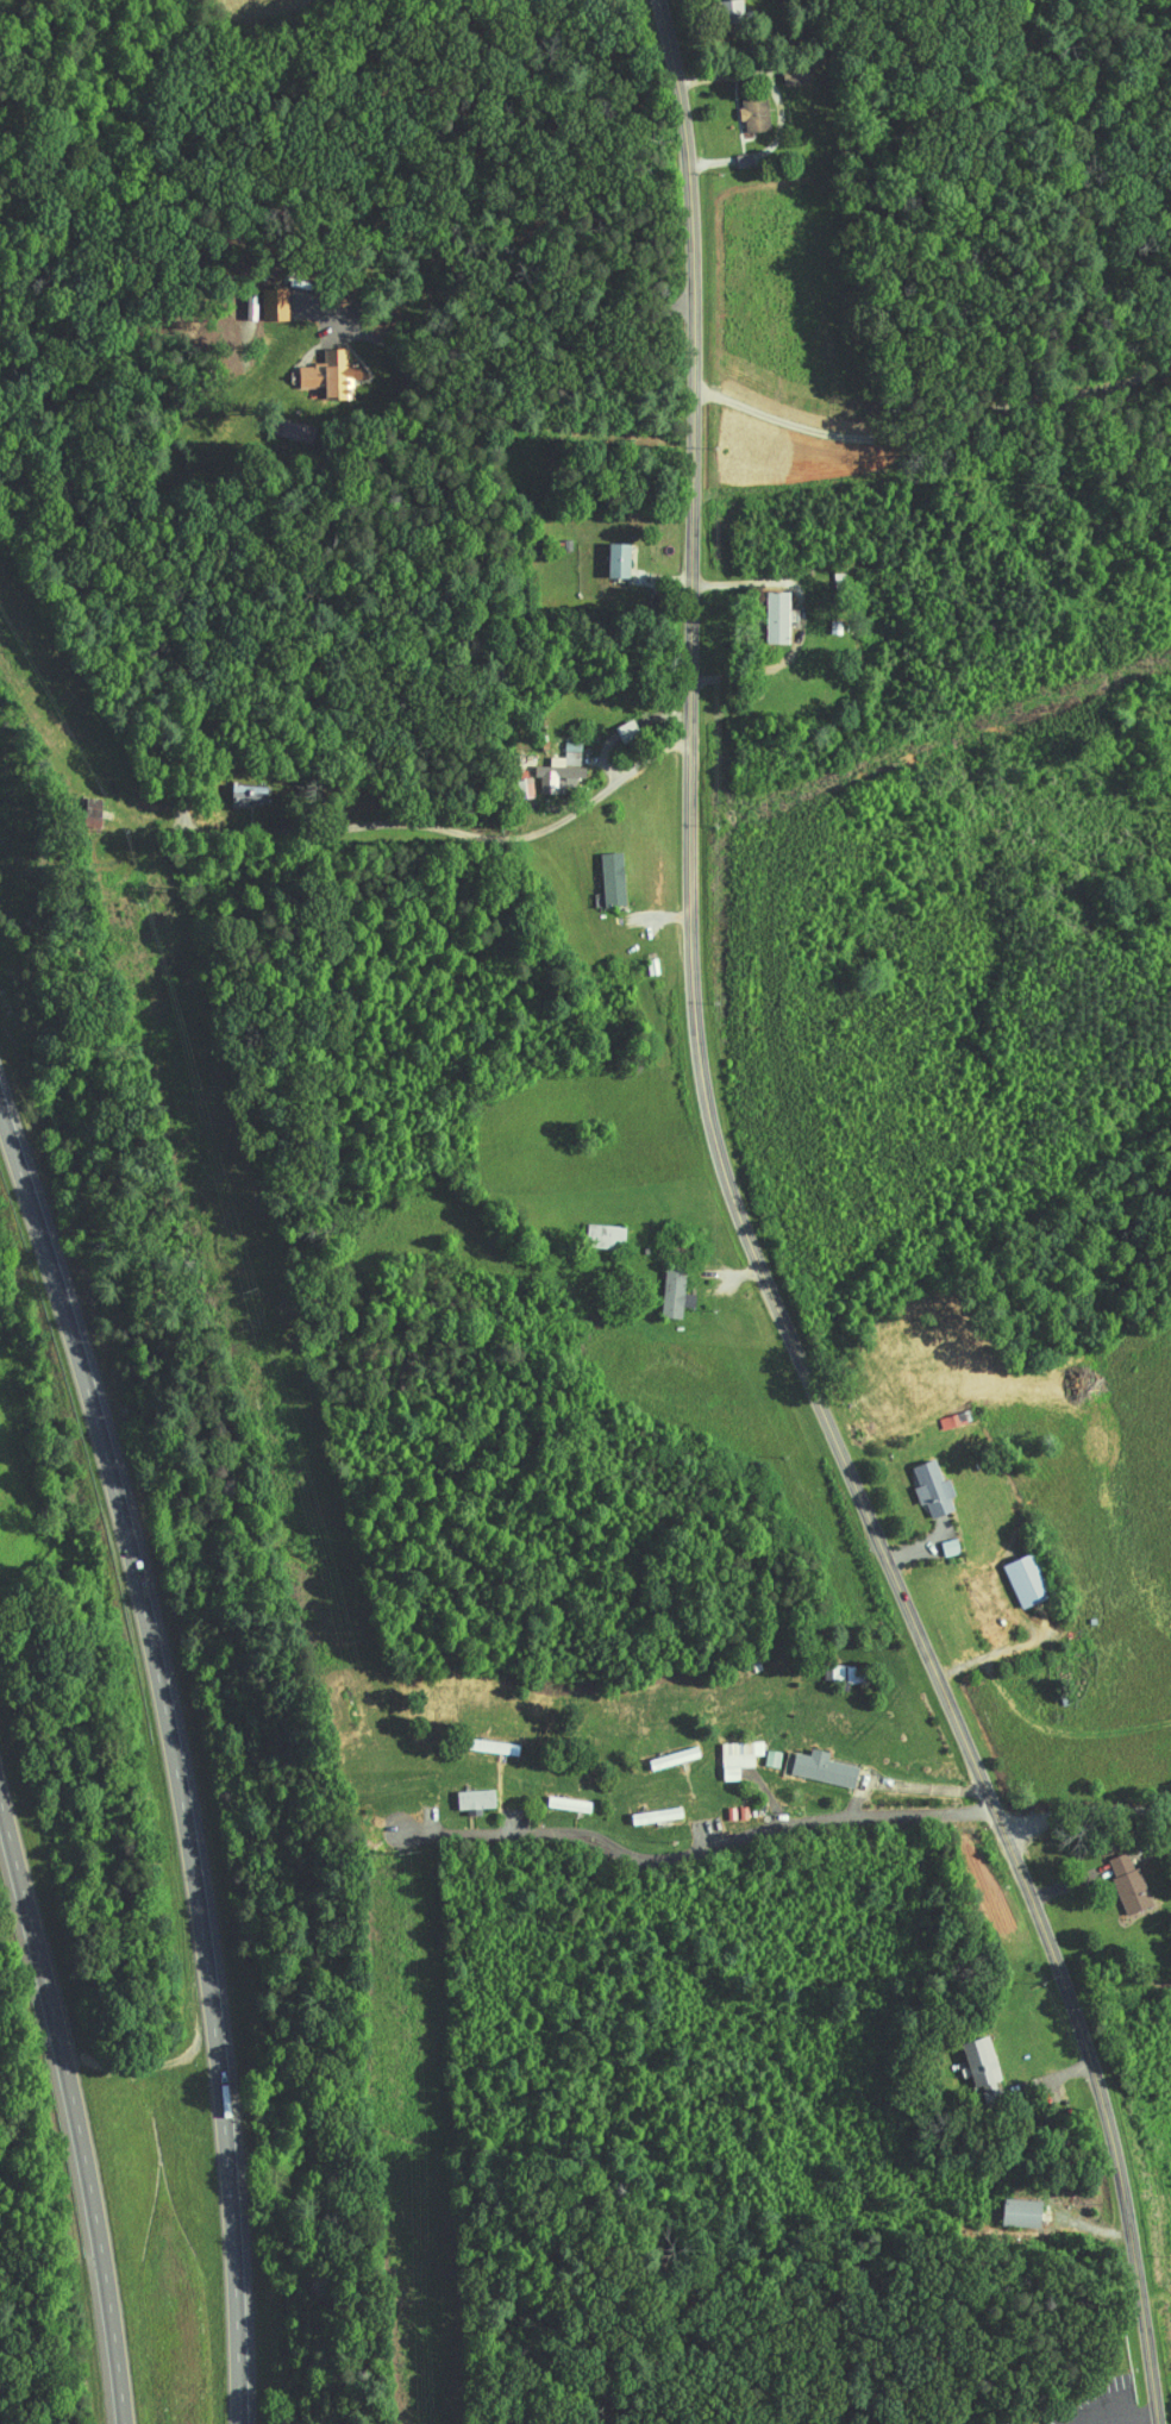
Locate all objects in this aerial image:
building: (715, 5)
building: (739, 107)
road: (789, 109)
building: (737, 152)
building: (261, 296)
building: (317, 368)
road: (532, 408)
building: (275, 422)
building: (603, 551)
building: (762, 608)
building: (546, 762)
building: (511, 779)
building: (232, 787)
building: (77, 804)
road: (452, 829)
building: (596, 870)
road: (368, 967)
building: (590, 1228)
road: (754, 1242)
building: (659, 1285)
building: (916, 1480)
building: (934, 1540)
building: (1010, 1572)
building: (829, 1666)
building: (724, 1749)
building: (658, 1750)
building: (758, 1750)
road: (175, 1755)
building: (808, 1761)
building: (461, 1791)
road: (1088, 1811)
road: (700, 1847)
building: (1114, 1875)
building: (965, 2055)
road: (74, 2105)
building: (1006, 2205)

